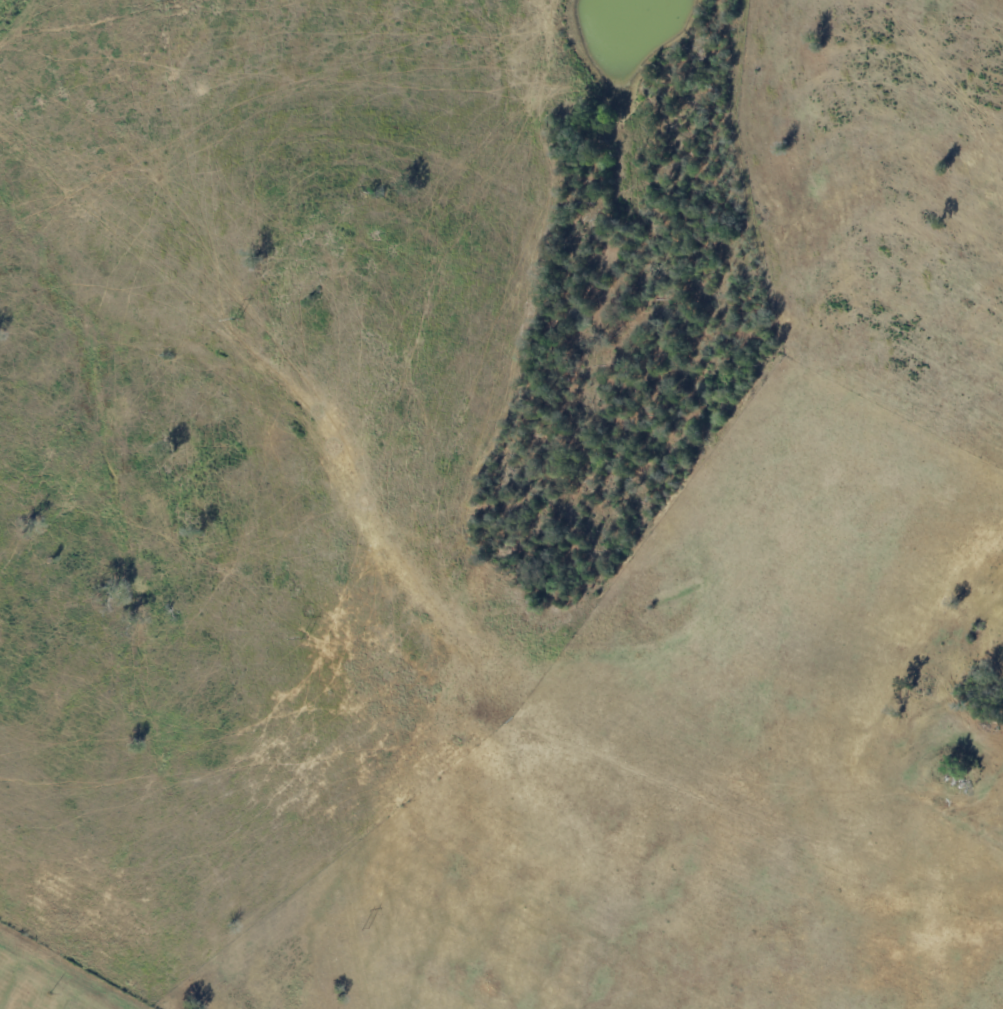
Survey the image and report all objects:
power tower: (169, 0)
power tower: (233, 318)
power tower: (301, 638)
power tower: (366, 930)

